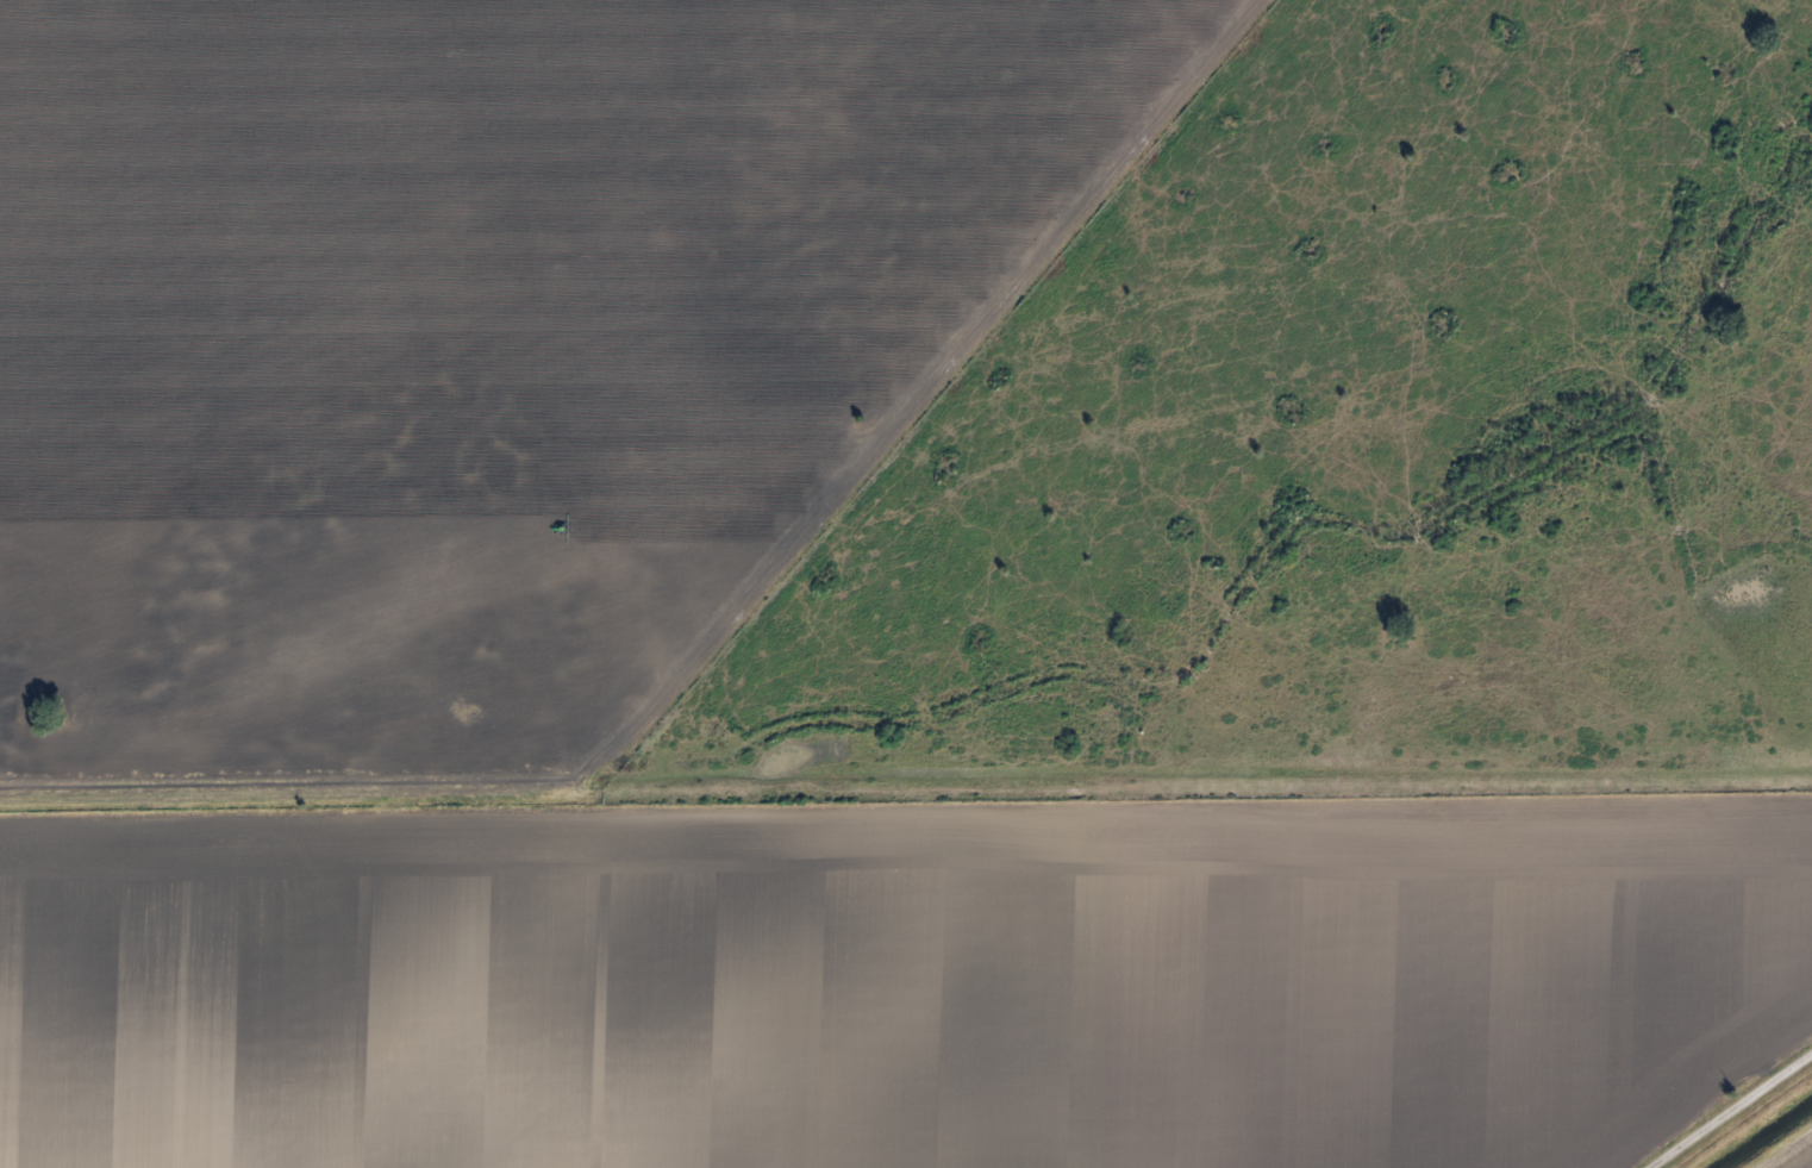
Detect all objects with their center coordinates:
road: (1733, 1113)

